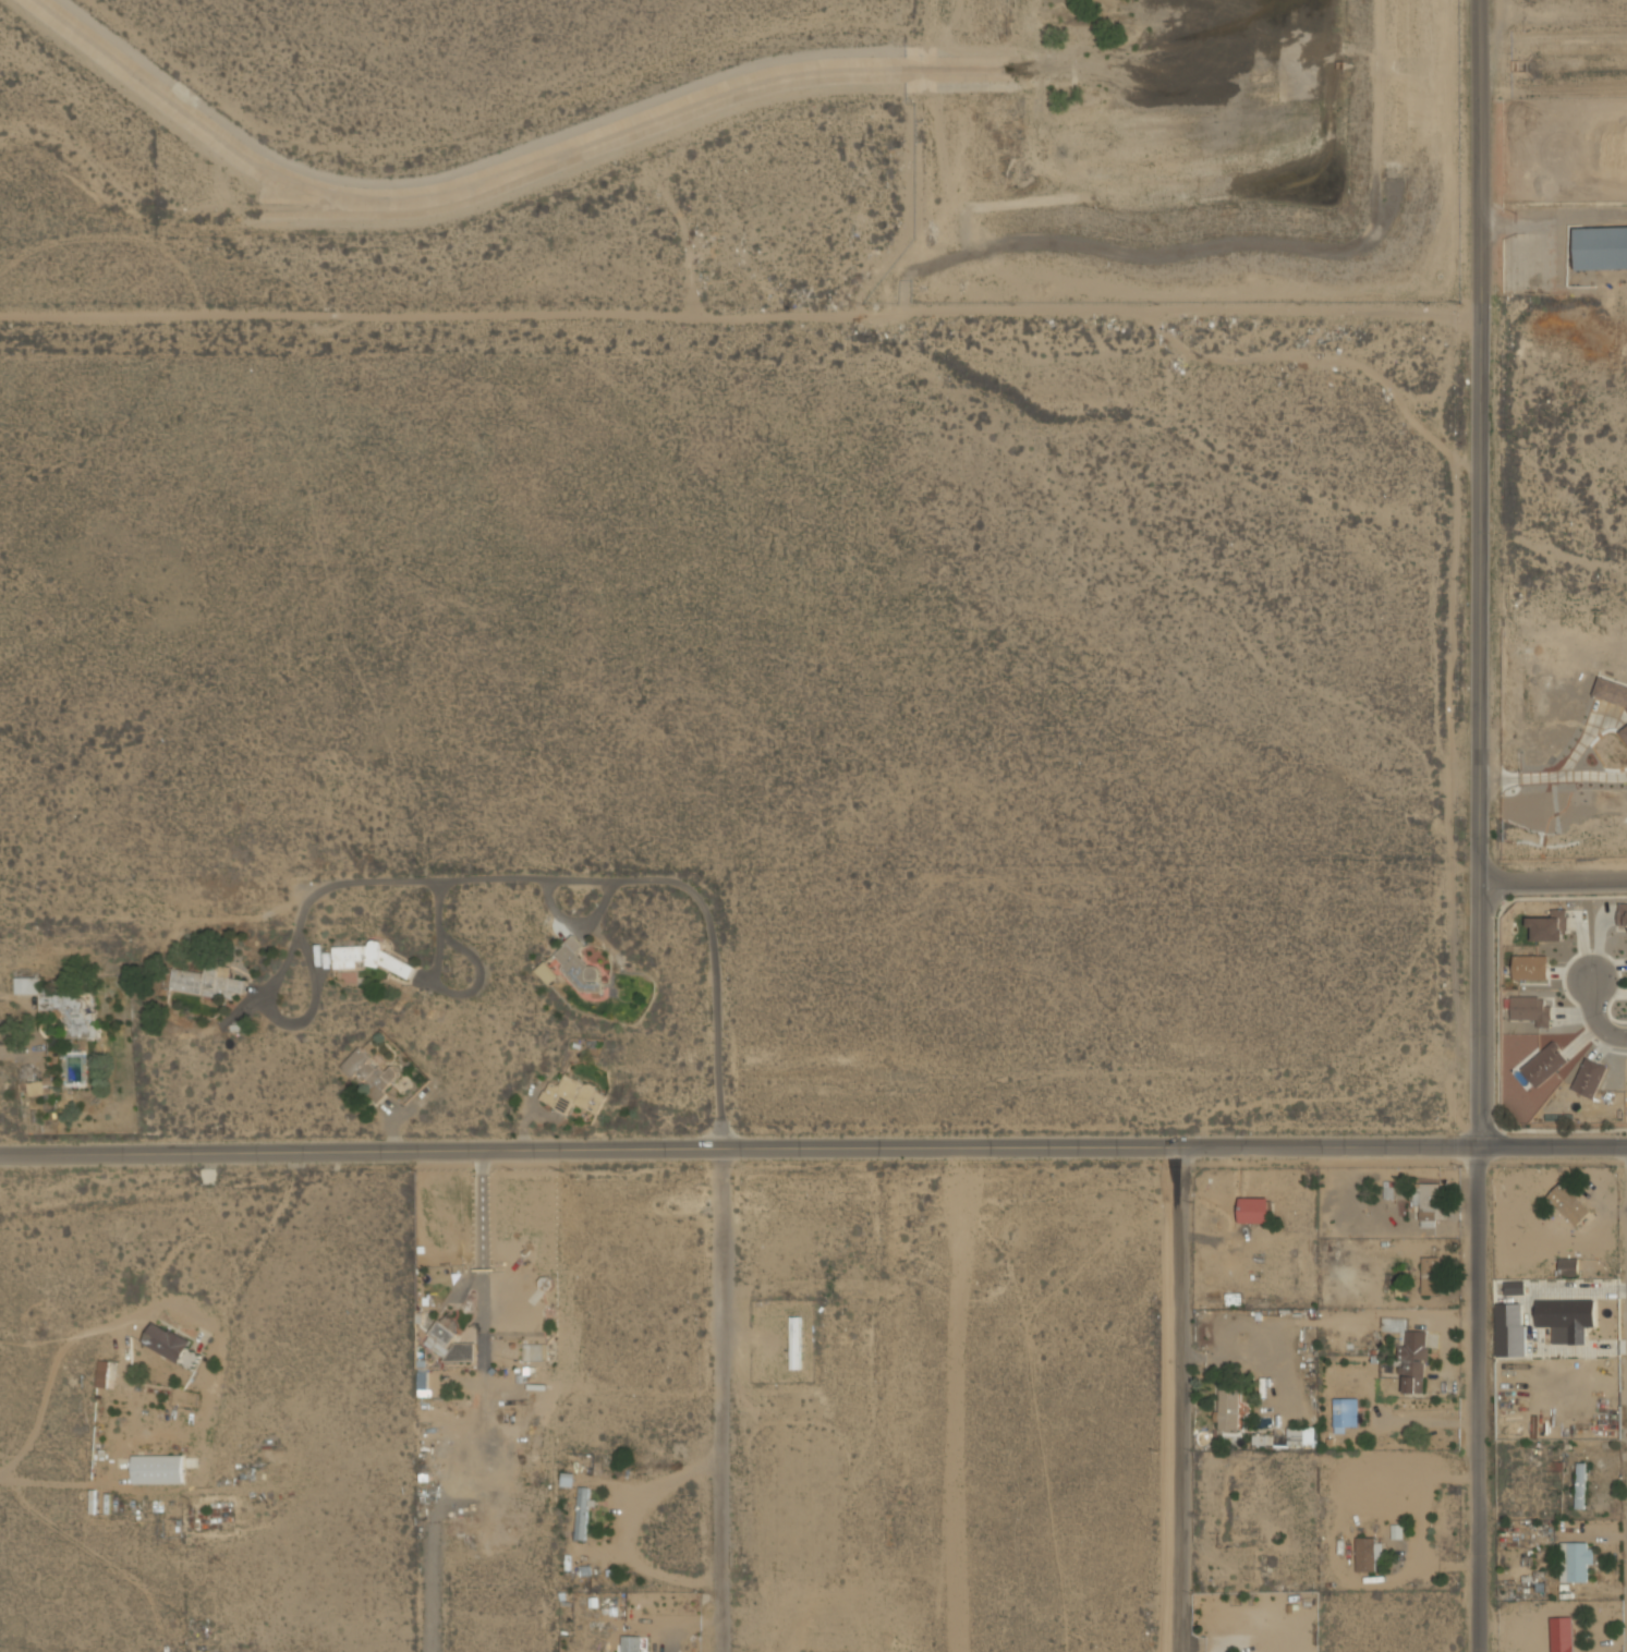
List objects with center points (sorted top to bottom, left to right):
road: (1480, 13)
road: (1553, 40)
road: (1554, 88)
dam: (1271, 239)
building: (1601, 247)
building: (1611, 691)
building: (1624, 732)
road: (1581, 742)
road: (1552, 776)
road: (1477, 838)
road: (1552, 879)
road: (598, 882)
building: (1622, 913)
building: (1547, 925)
building: (1529, 968)
building: (576, 969)
building: (1530, 1009)
road: (1596, 1017)
road: (4, 1054)
building: (1544, 1064)
building: (1589, 1077)
building: (572, 1095)
road: (813, 1145)
building: (1426, 1203)
building: (1568, 1203)
building: (1254, 1210)
road: (481, 1240)
building: (1567, 1266)
building: (1429, 1275)
building: (1515, 1287)
building: (1565, 1319)
building: (1509, 1329)
building: (165, 1343)
building: (794, 1343)
building: (449, 1344)
building: (532, 1351)
building: (1412, 1361)
building: (101, 1374)
road: (725, 1398)
road: (1178, 1398)
building: (1227, 1409)
building: (1345, 1413)
building: (1287, 1437)
building: (155, 1469)
building: (1579, 1494)
building: (581, 1513)
road: (1420, 1522)
road: (629, 1531)
building: (1368, 1553)
building: (1576, 1560)
building: (1570, 1632)
building: (631, 1643)
road: (1231, 1643)

